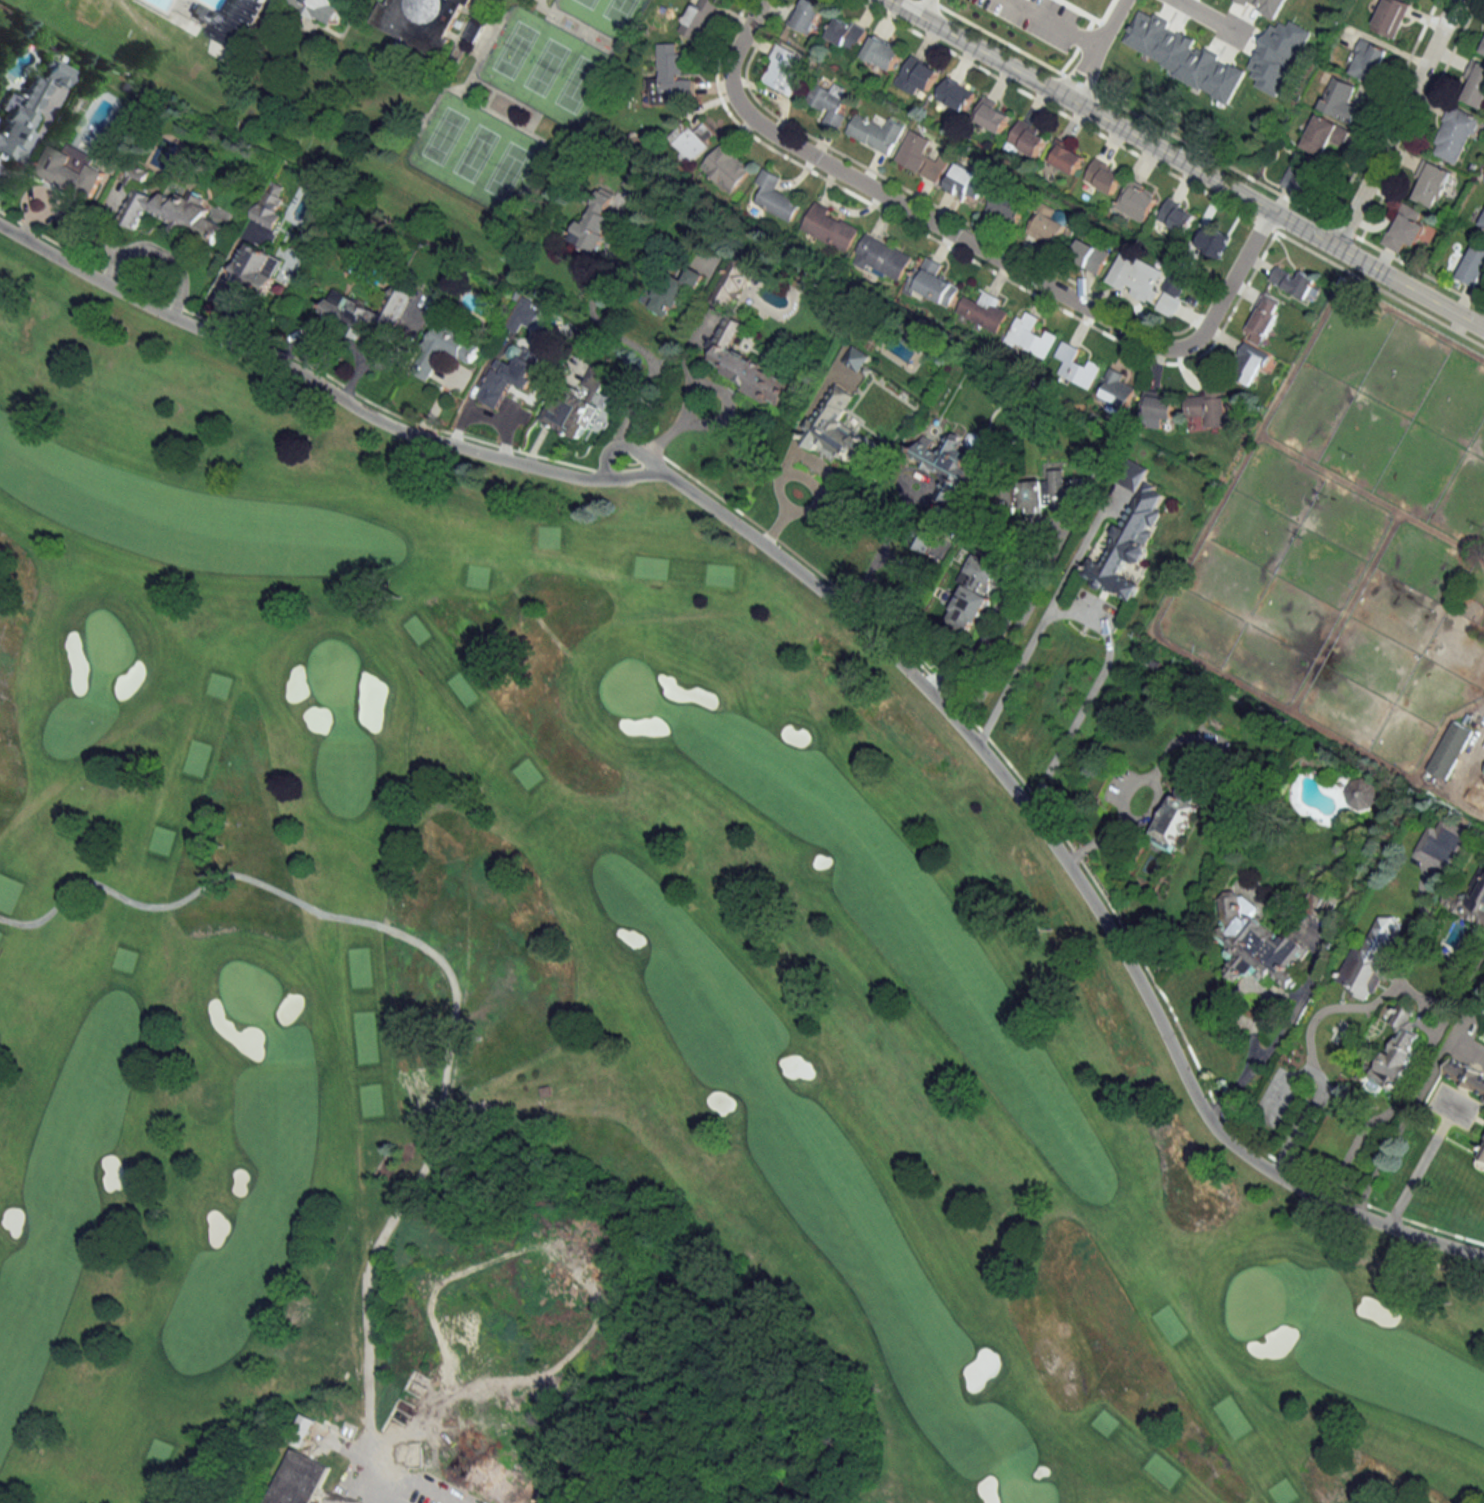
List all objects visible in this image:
road: (890, 1)
building: (1265, 6)
building: (322, 8)
road: (925, 9)
park: (604, 14)
building: (808, 16)
road: (1210, 16)
building: (1391, 17)
building: (700, 18)
building: (230, 21)
building: (420, 21)
road: (1055, 24)
building: (473, 32)
building: (847, 33)
road: (1097, 50)
building: (1483, 51)
building: (884, 53)
building: (1279, 54)
building: (1184, 56)
building: (1368, 60)
park: (542, 66)
building: (785, 69)
building: (918, 75)
building: (671, 79)
building: (1475, 85)
building: (956, 94)
building: (1341, 99)
building: (830, 103)
building: (26, 107)
building: (993, 114)
road: (1395, 124)
building: (878, 132)
building: (1455, 134)
building: (1325, 135)
building: (1028, 138)
building: (692, 141)
park: (475, 153)
building: (922, 156)
building: (1066, 156)
road: (1185, 163)
building: (727, 167)
building: (73, 168)
building: (134, 172)
building: (1104, 176)
building: (1305, 177)
building: (967, 182)
building: (1432, 184)
building: (778, 200)
building: (1138, 200)
building: (270, 205)
building: (1007, 206)
building: (175, 207)
building: (1177, 216)
building: (596, 221)
building: (1483, 222)
building: (832, 227)
building: (1050, 227)
building: (1405, 228)
building: (1218, 243)
road: (977, 248)
building: (884, 256)
building: (1090, 256)
building: (256, 267)
building: (1474, 267)
building: (1138, 276)
building: (934, 282)
building: (1295, 282)
building: (732, 283)
building: (672, 291)
building: (983, 310)
building: (365, 312)
building: (1263, 318)
building: (1031, 335)
building: (455, 345)
road: (644, 353)
building: (856, 358)
building: (1250, 363)
building: (1077, 366)
building: (749, 367)
building: (511, 379)
building: (1116, 389)
building: (1209, 404)
building: (1160, 405)
building: (573, 415)
road: (725, 418)
building: (838, 430)
road: (617, 444)
building: (947, 466)
building: (1131, 474)
road: (789, 479)
building: (1048, 493)
road: (887, 541)
building: (936, 544)
building: (1128, 544)
building: (974, 590)
road: (841, 607)
road: (1097, 625)
road: (974, 649)
road: (397, 661)
road: (1479, 744)
building: (1447, 749)
building: (1483, 767)
building: (1483, 777)
building: (1362, 794)
building: (1182, 805)
road: (1153, 809)
building: (1443, 844)
building: (1470, 901)
building: (1256, 943)
road: (451, 994)
building: (1349, 995)
park: (567, 1026)
road: (1263, 1058)
building: (1396, 1059)
road: (1314, 1070)
building: (1463, 1073)
road: (1363, 1130)
building: (1481, 1147)
road: (1421, 1160)
building: (1482, 1160)
road: (1218, 1365)
building: (301, 1430)
building: (298, 1479)
road: (382, 1492)
road: (378, 1502)

